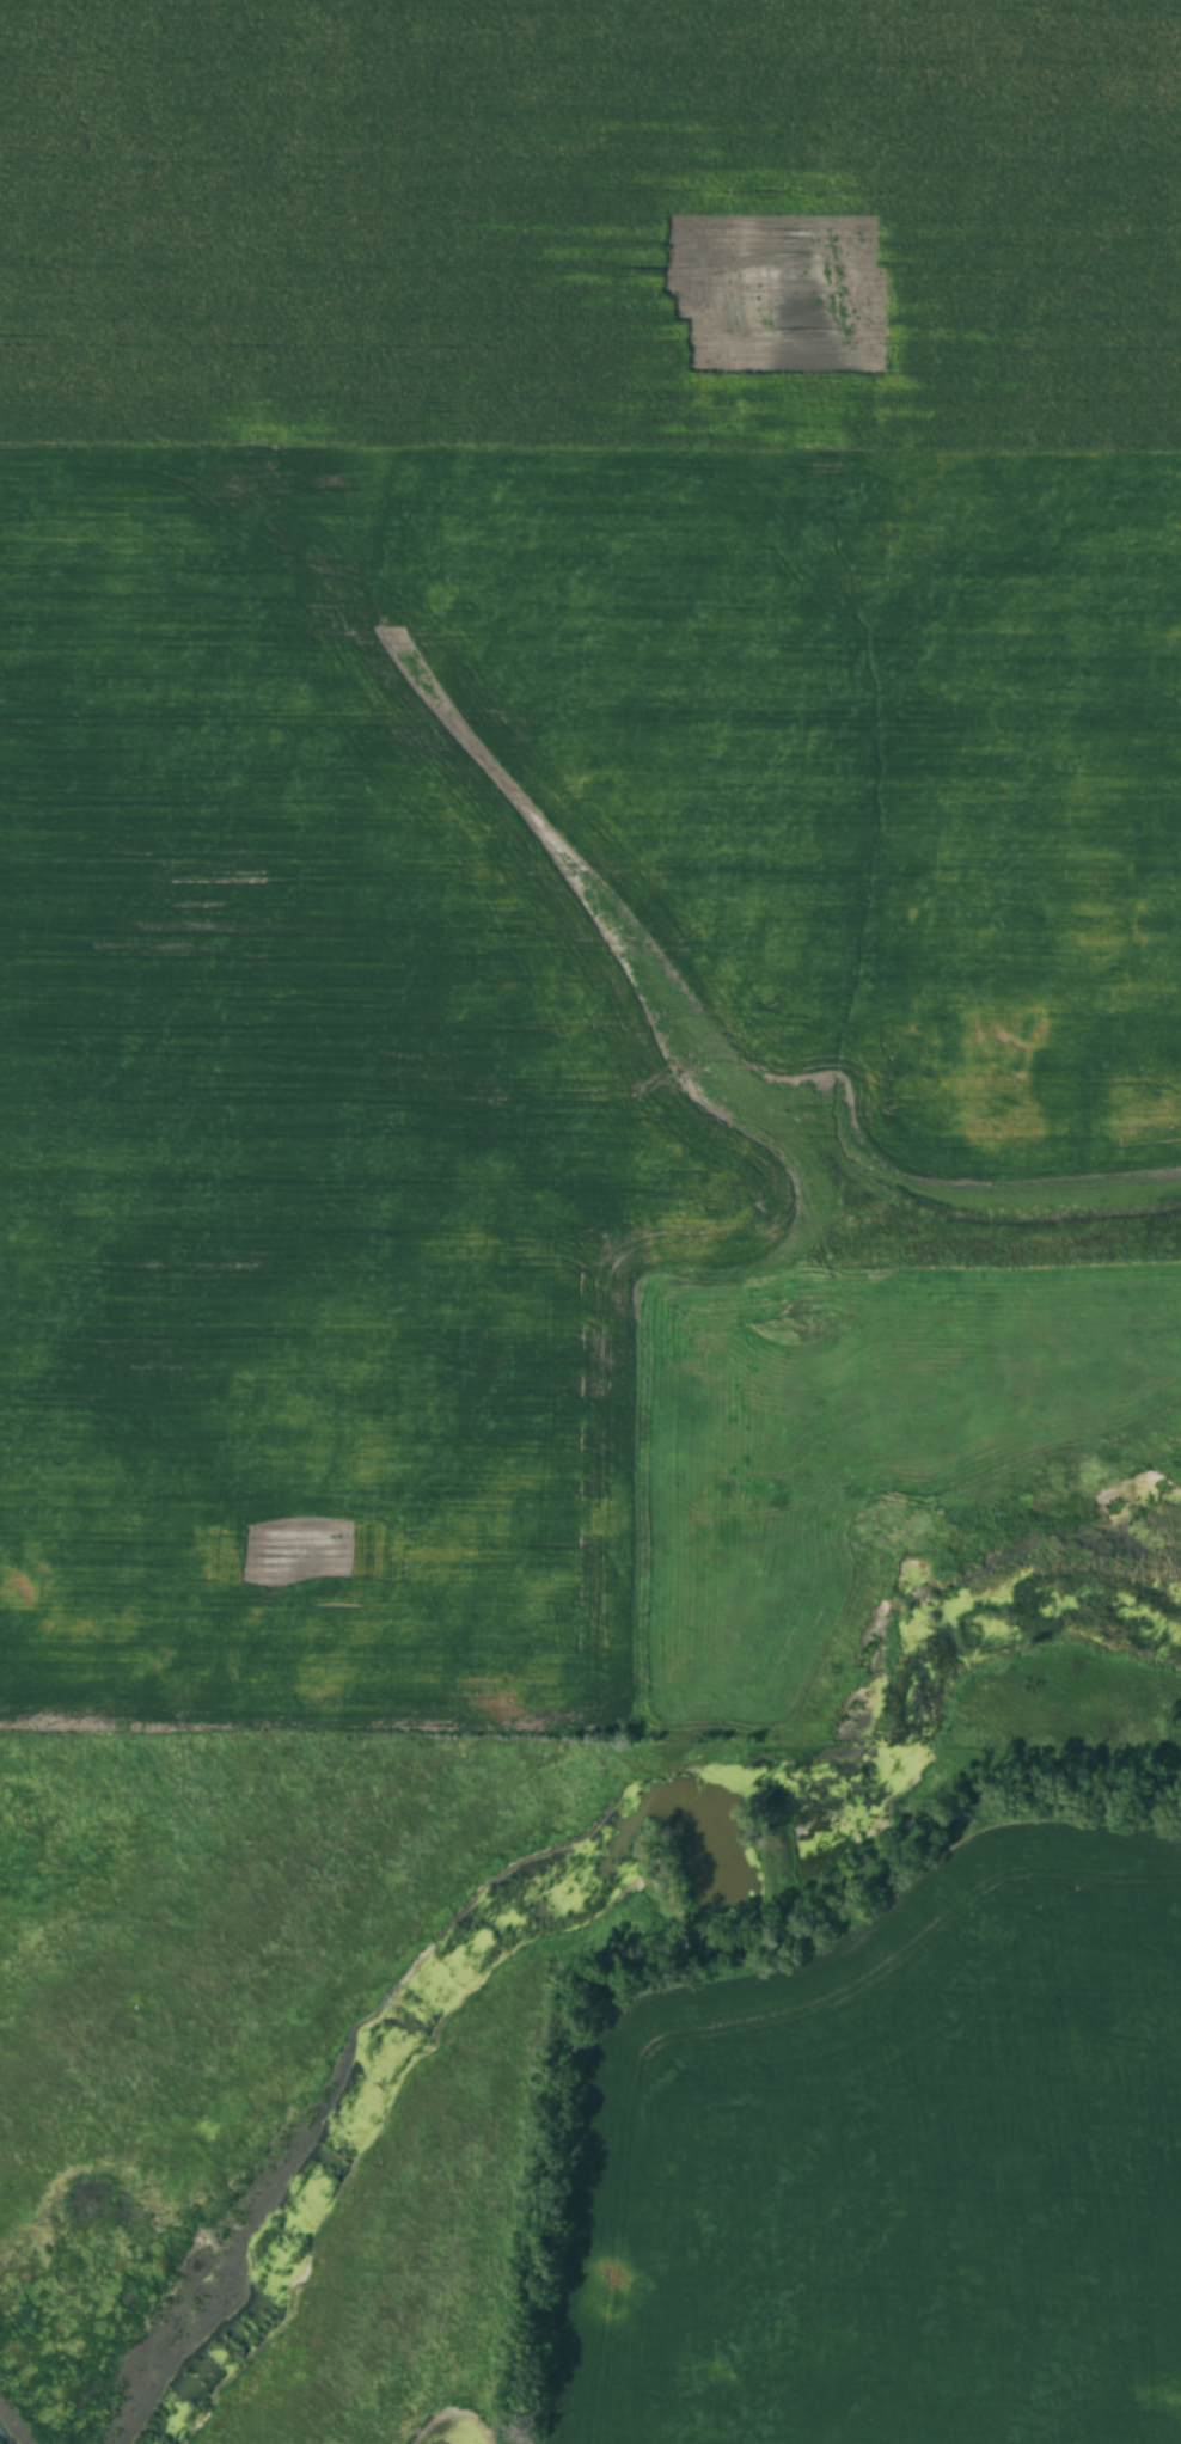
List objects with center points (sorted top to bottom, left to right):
crop: (512, 1009)

